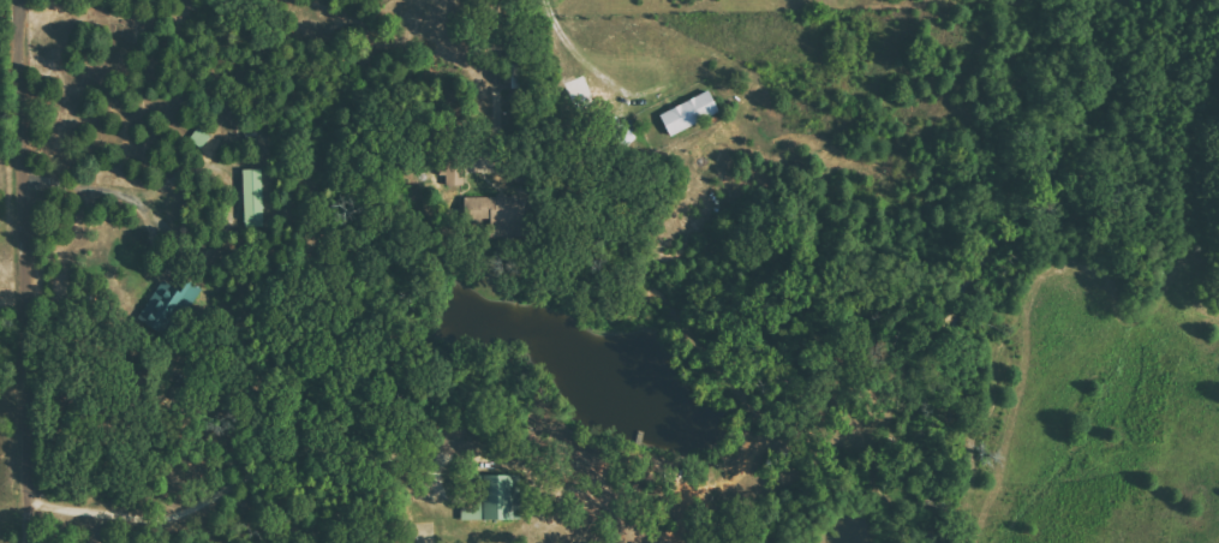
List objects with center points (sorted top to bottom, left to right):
road: (575, 50)
road: (495, 78)
building: (691, 113)
building: (253, 196)
building: (494, 207)
road: (24, 270)
building: (163, 306)
road: (244, 477)
building: (496, 500)

